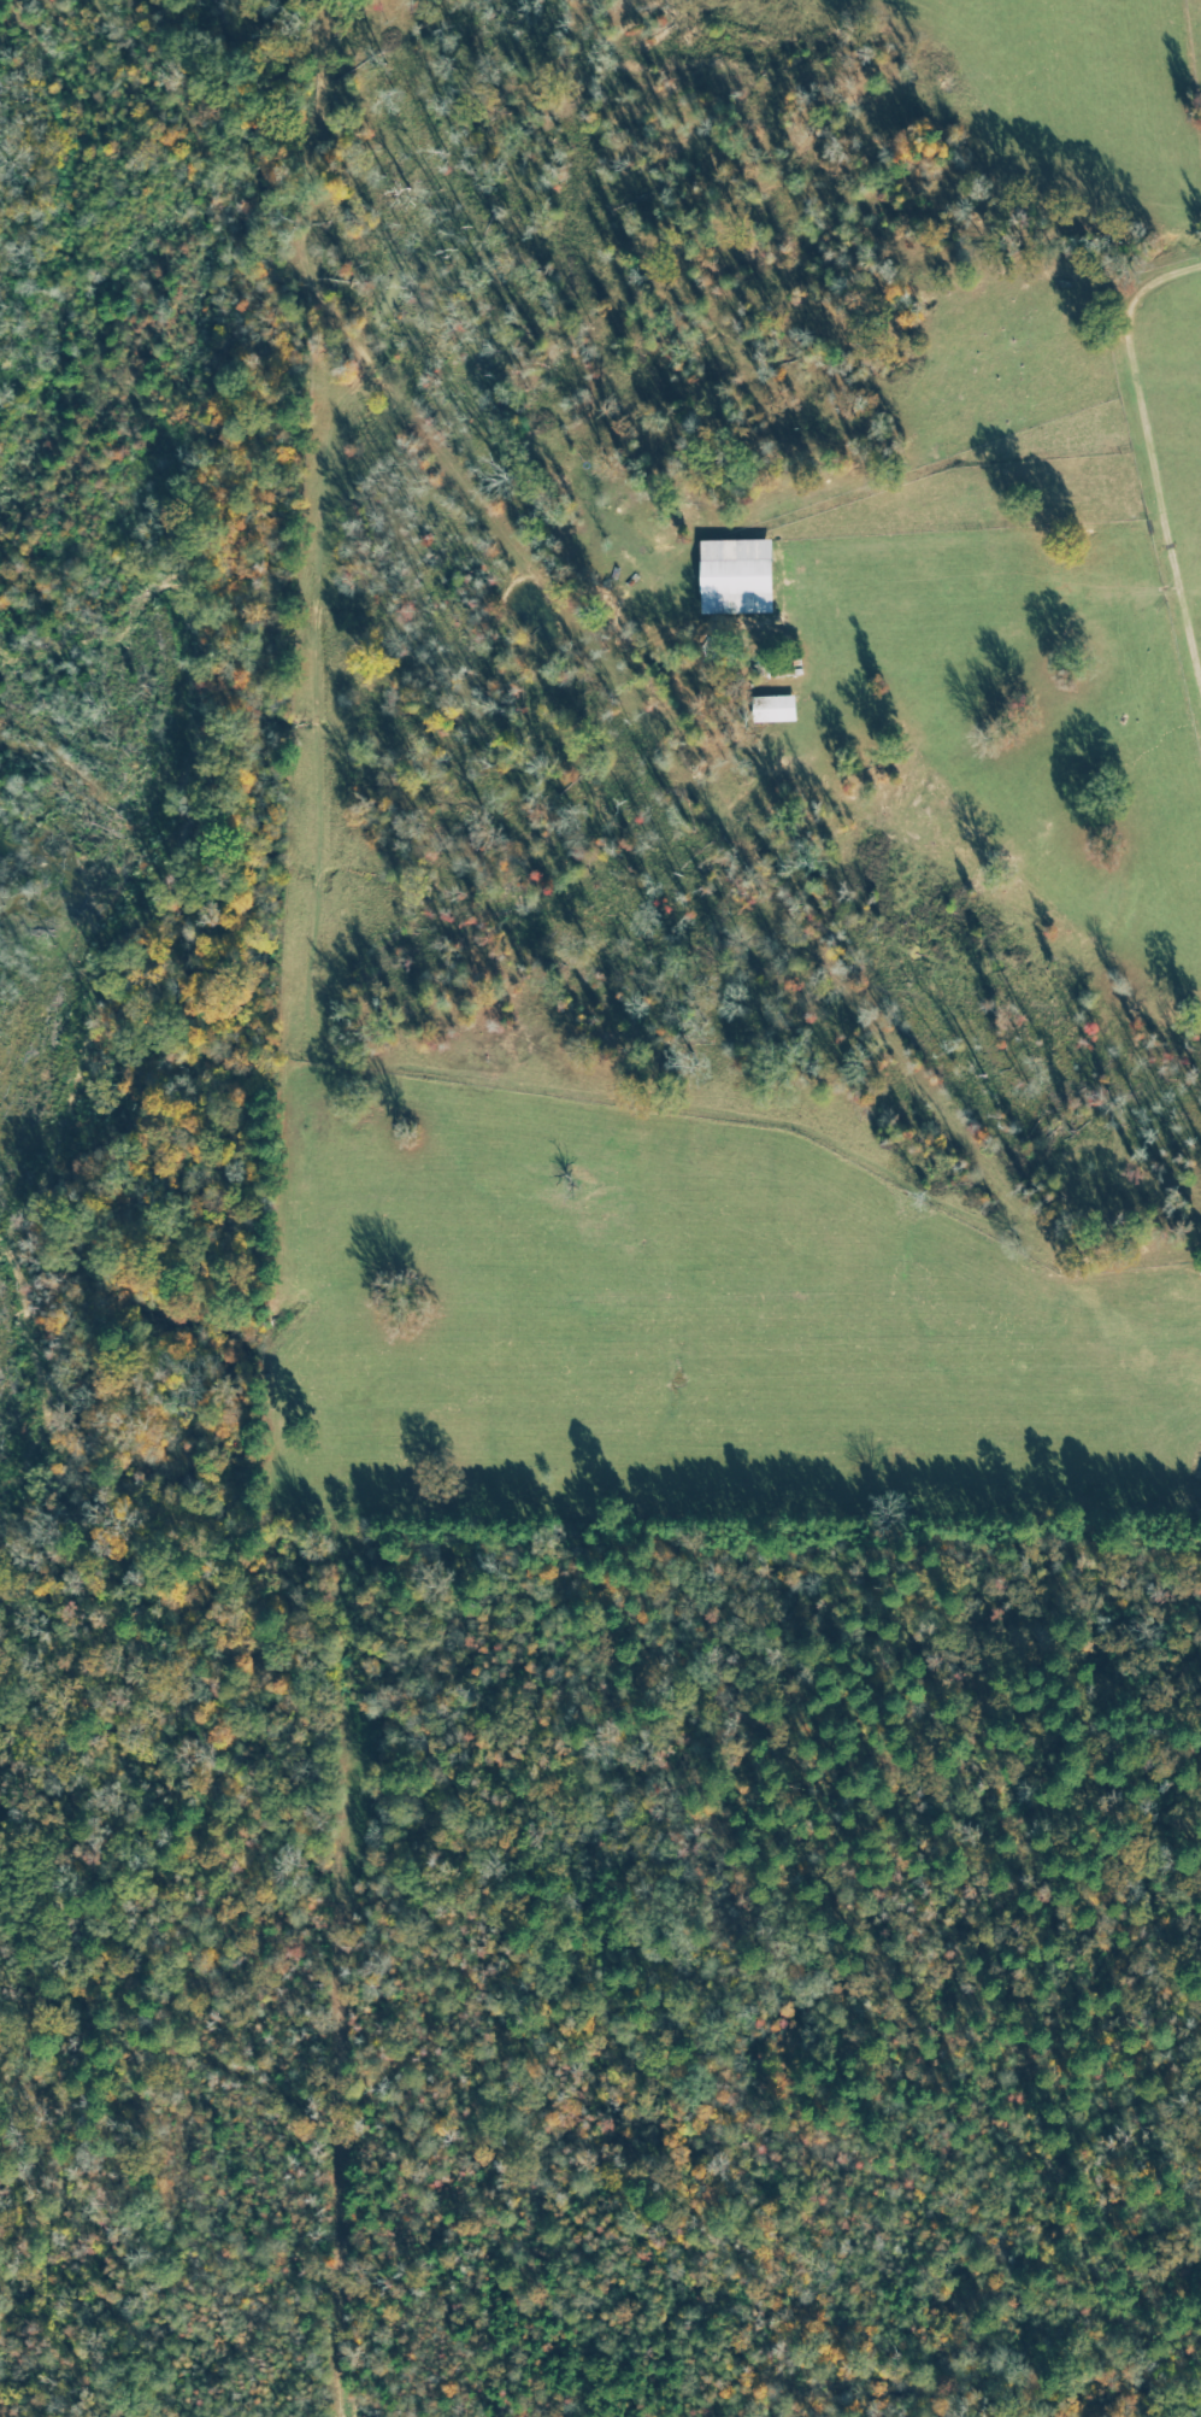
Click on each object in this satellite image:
road: (1148, 454)
building: (772, 709)

